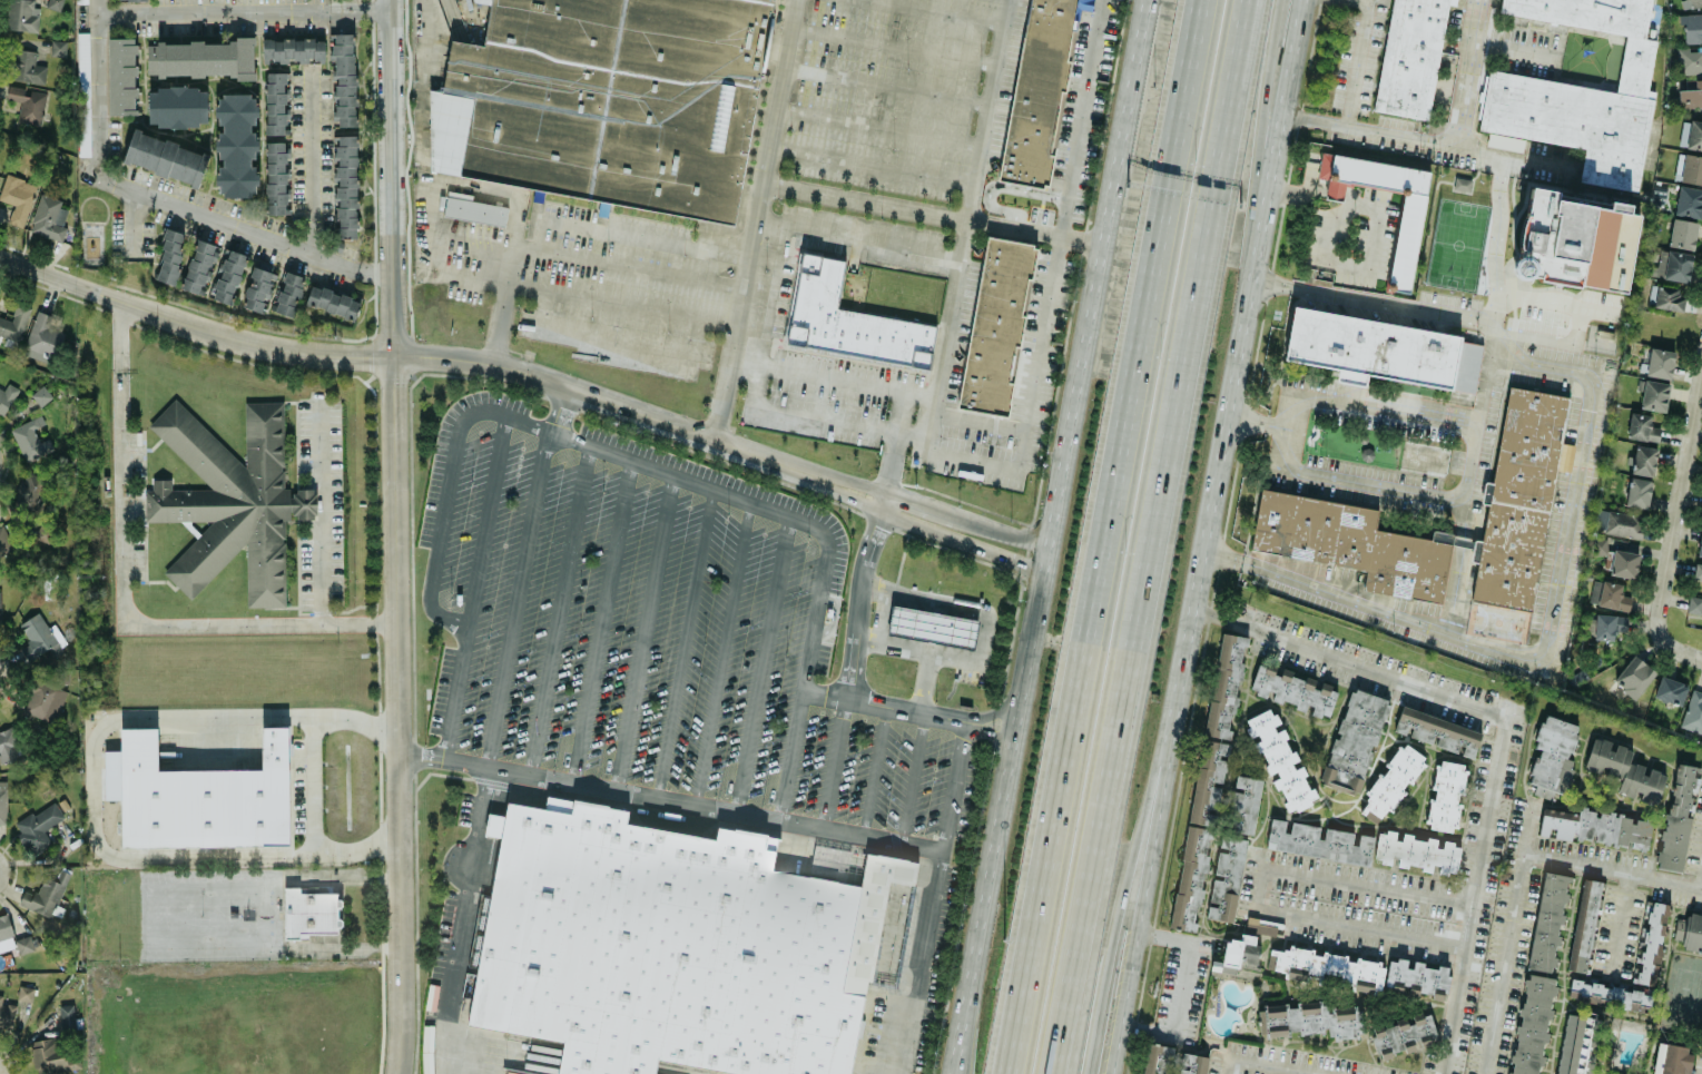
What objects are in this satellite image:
building: (81, 0)
building: (125, 0)
building: (1692, 2)
building: (53, 4)
road: (243, 10)
building: (21, 16)
building: (1692, 27)
road: (1539, 46)
building: (58, 47)
building: (293, 49)
building: (1410, 57)
building: (199, 58)
building: (1690, 60)
building: (27, 67)
road: (1370, 67)
road: (1468, 71)
building: (121, 76)
building: (343, 78)
road: (891, 85)
building: (1040, 90)
building: (1578, 91)
building: (83, 93)
building: (1691, 96)
building: (608, 100)
building: (275, 102)
building: (23, 104)
building: (177, 106)
road: (986, 110)
road: (883, 126)
building: (1683, 132)
building: (1694, 135)
road: (1429, 138)
building: (236, 145)
building: (166, 157)
road: (309, 162)
road: (875, 162)
building: (1689, 168)
road: (1261, 174)
building: (275, 177)
road: (391, 178)
building: (345, 186)
road: (1337, 188)
road: (1300, 189)
road: (516, 195)
building: (17, 198)
road: (160, 199)
building: (1689, 201)
building: (472, 209)
road: (938, 215)
building: (48, 217)
road: (761, 220)
road: (437, 223)
road: (134, 224)
road: (1060, 233)
building: (1682, 233)
road: (1496, 237)
road: (860, 238)
road: (641, 239)
building: (1575, 242)
building: (1405, 245)
building: (170, 256)
building: (1678, 265)
building: (198, 266)
road: (1356, 266)
building: (227, 276)
road: (1100, 280)
building: (258, 288)
building: (288, 294)
building: (1669, 297)
building: (332, 302)
road: (603, 302)
road: (503, 303)
building: (849, 321)
building: (13, 323)
road: (1576, 323)
road: (194, 325)
road: (946, 329)
road: (1248, 334)
building: (41, 337)
building: (1383, 349)
building: (1660, 362)
road: (760, 373)
road: (1362, 390)
building: (43, 393)
building: (1653, 394)
building: (7, 397)
road: (557, 410)
road: (982, 422)
building: (1643, 426)
road: (893, 428)
building: (30, 440)
road: (724, 444)
building: (1565, 456)
building: (1643, 460)
road: (893, 466)
road: (1419, 482)
building: (29, 491)
building: (1637, 492)
building: (1518, 500)
building: (230, 501)
road: (1678, 511)
road: (319, 513)
road: (1577, 513)
building: (1600, 518)
road: (485, 523)
building: (1624, 523)
road: (1111, 536)
road: (1150, 536)
road: (815, 538)
building: (4, 541)
building: (1352, 543)
building: (1700, 544)
building: (1598, 545)
road: (434, 551)
building: (1623, 563)
building: (1696, 575)
building: (1595, 591)
road: (124, 595)
building: (1613, 597)
road: (519, 600)
building: (1694, 604)
road: (558, 610)
building: (0, 618)
road: (600, 622)
building: (929, 625)
building: (1604, 627)
road: (646, 635)
road: (983, 638)
building: (39, 639)
road: (683, 646)
road: (1682, 649)
road: (721, 656)
road: (760, 667)
building: (1633, 676)
road: (926, 681)
building: (1293, 690)
building: (1670, 690)
road: (820, 691)
building: (43, 700)
road: (932, 709)
building: (1693, 711)
road: (400, 715)
road: (256, 716)
building: (1437, 731)
road: (1504, 735)
building: (1354, 741)
building: (7, 747)
building: (1553, 756)
building: (1280, 759)
road: (444, 760)
road: (495, 768)
road: (875, 769)
building: (1624, 770)
road: (912, 775)
building: (1208, 779)
road: (313, 780)
road: (955, 784)
building: (1390, 784)
building: (1446, 796)
building: (2, 801)
building: (1243, 804)
road: (94, 816)
road: (1004, 817)
building: (1676, 819)
building: (38, 827)
building: (1596, 827)
road: (826, 830)
building: (1319, 841)
building: (1416, 851)
road: (287, 855)
road: (1129, 869)
road: (1613, 869)
road: (1147, 870)
road: (1700, 877)
building: (1226, 878)
road: (1257, 888)
building: (46, 894)
road: (260, 913)
building: (309, 913)
building: (1547, 922)
road: (1630, 924)
building: (1584, 925)
building: (1690, 930)
building: (6, 934)
building: (21, 934)
road: (1509, 937)
building: (1650, 943)
building: (671, 946)
building: (1236, 954)
building: (1360, 972)
road: (1179, 989)
building: (24, 993)
building: (1614, 994)
building: (7, 1013)
building: (67, 1016)
building: (1311, 1018)
building: (1532, 1024)
building: (1404, 1033)
building: (1568, 1044)
building: (48, 1056)
building: (1172, 1061)
road: (1257, 1065)

